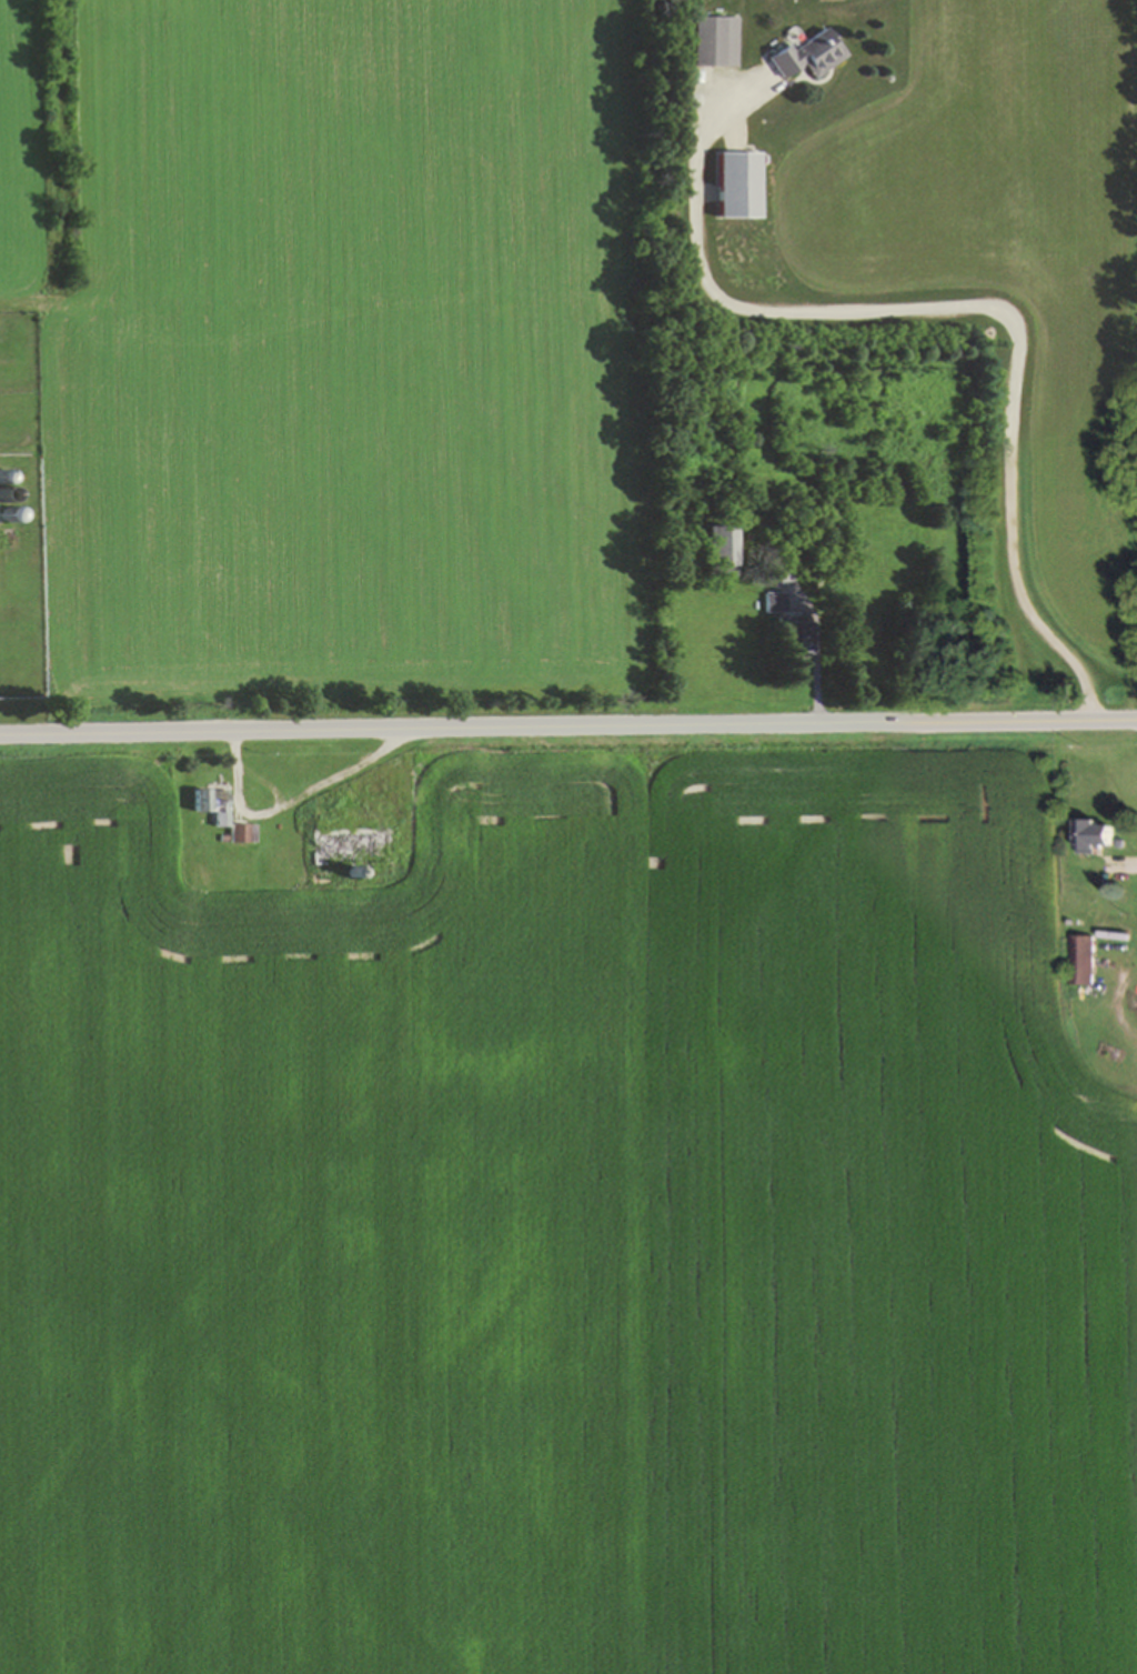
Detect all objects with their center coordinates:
building: (714, 42)
building: (807, 56)
building: (738, 186)
building: (716, 547)
building: (773, 604)
building: (792, 638)
road: (568, 726)
building: (212, 805)
building: (1095, 835)
building: (349, 850)
building: (1084, 960)

